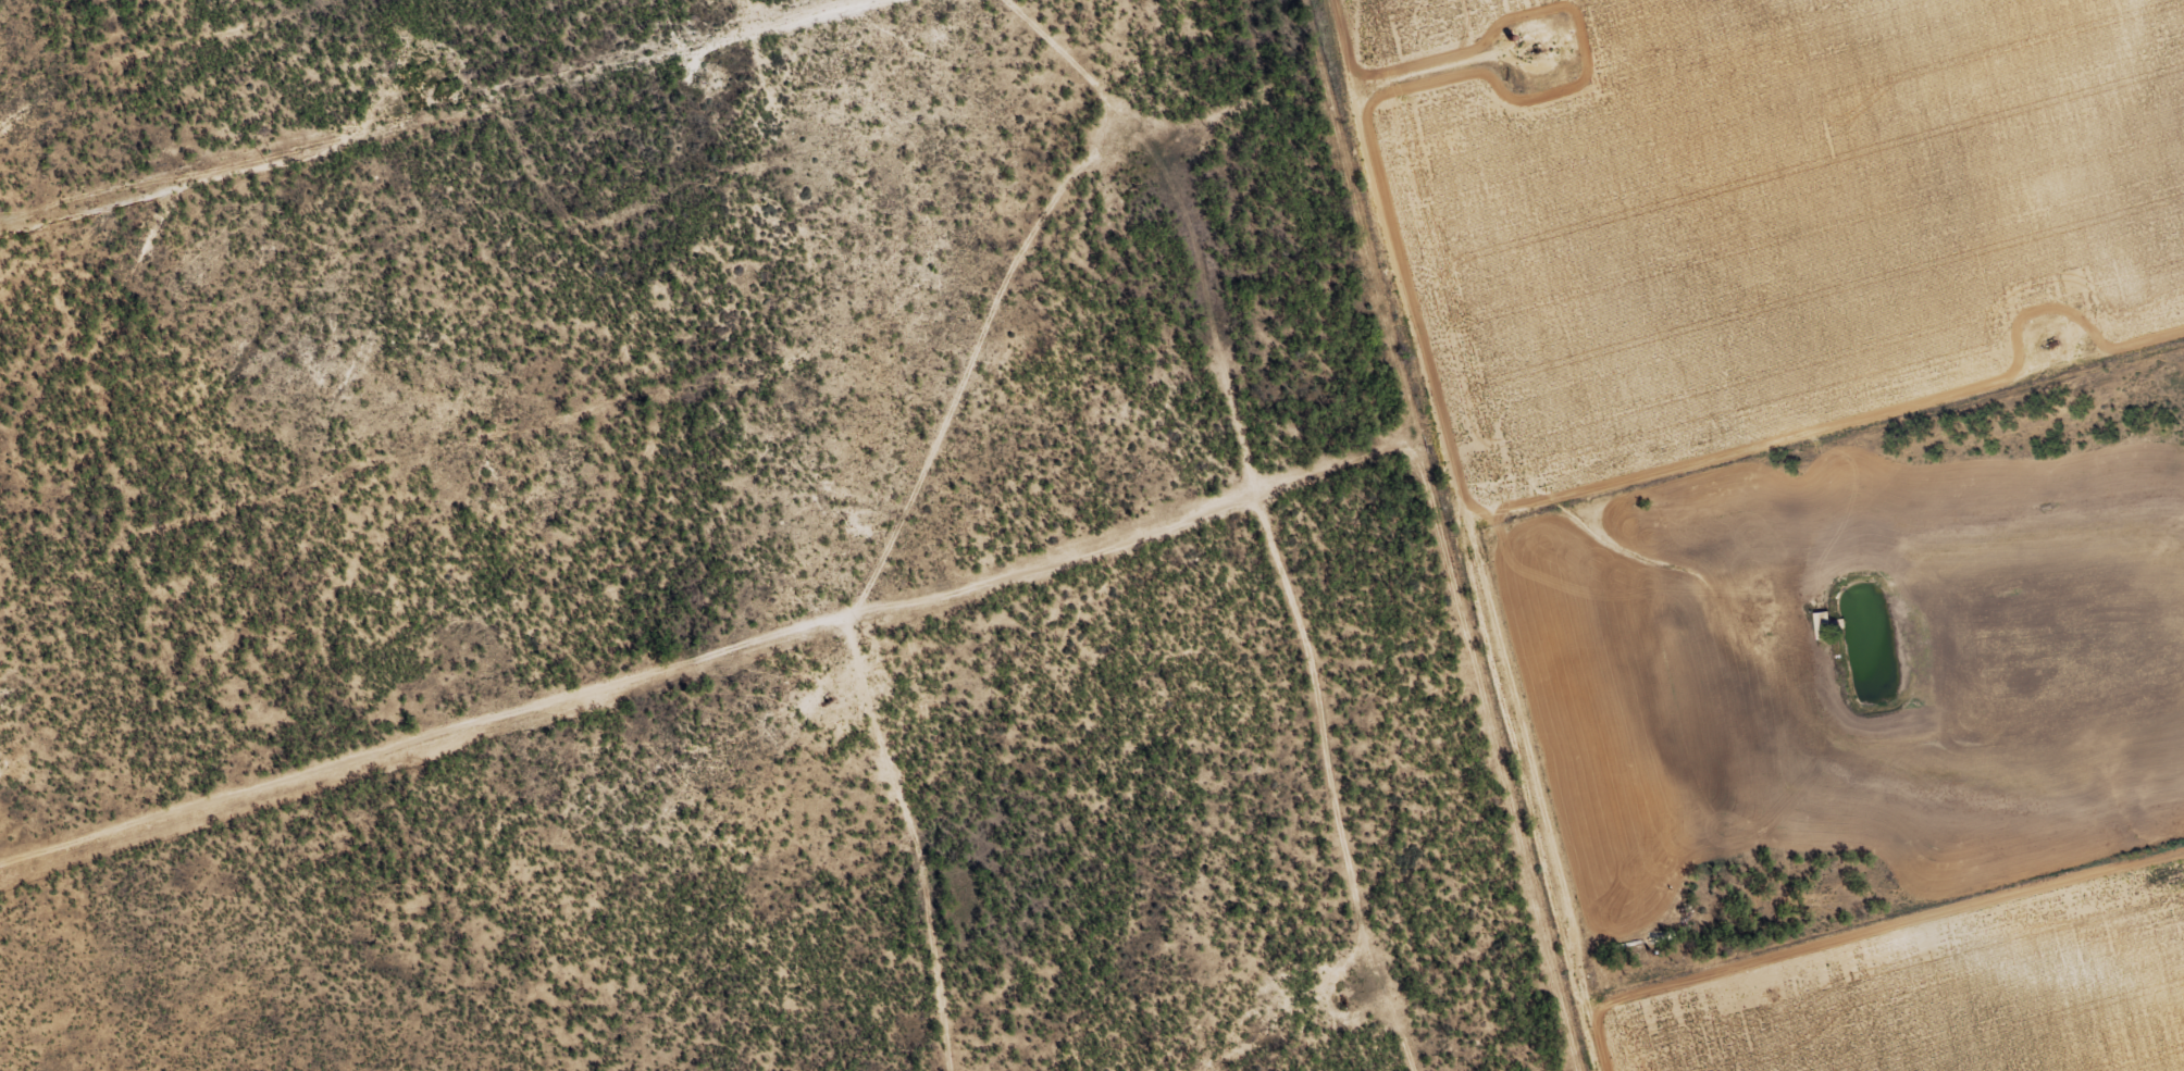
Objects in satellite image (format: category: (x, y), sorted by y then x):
building: (1823, 625)

